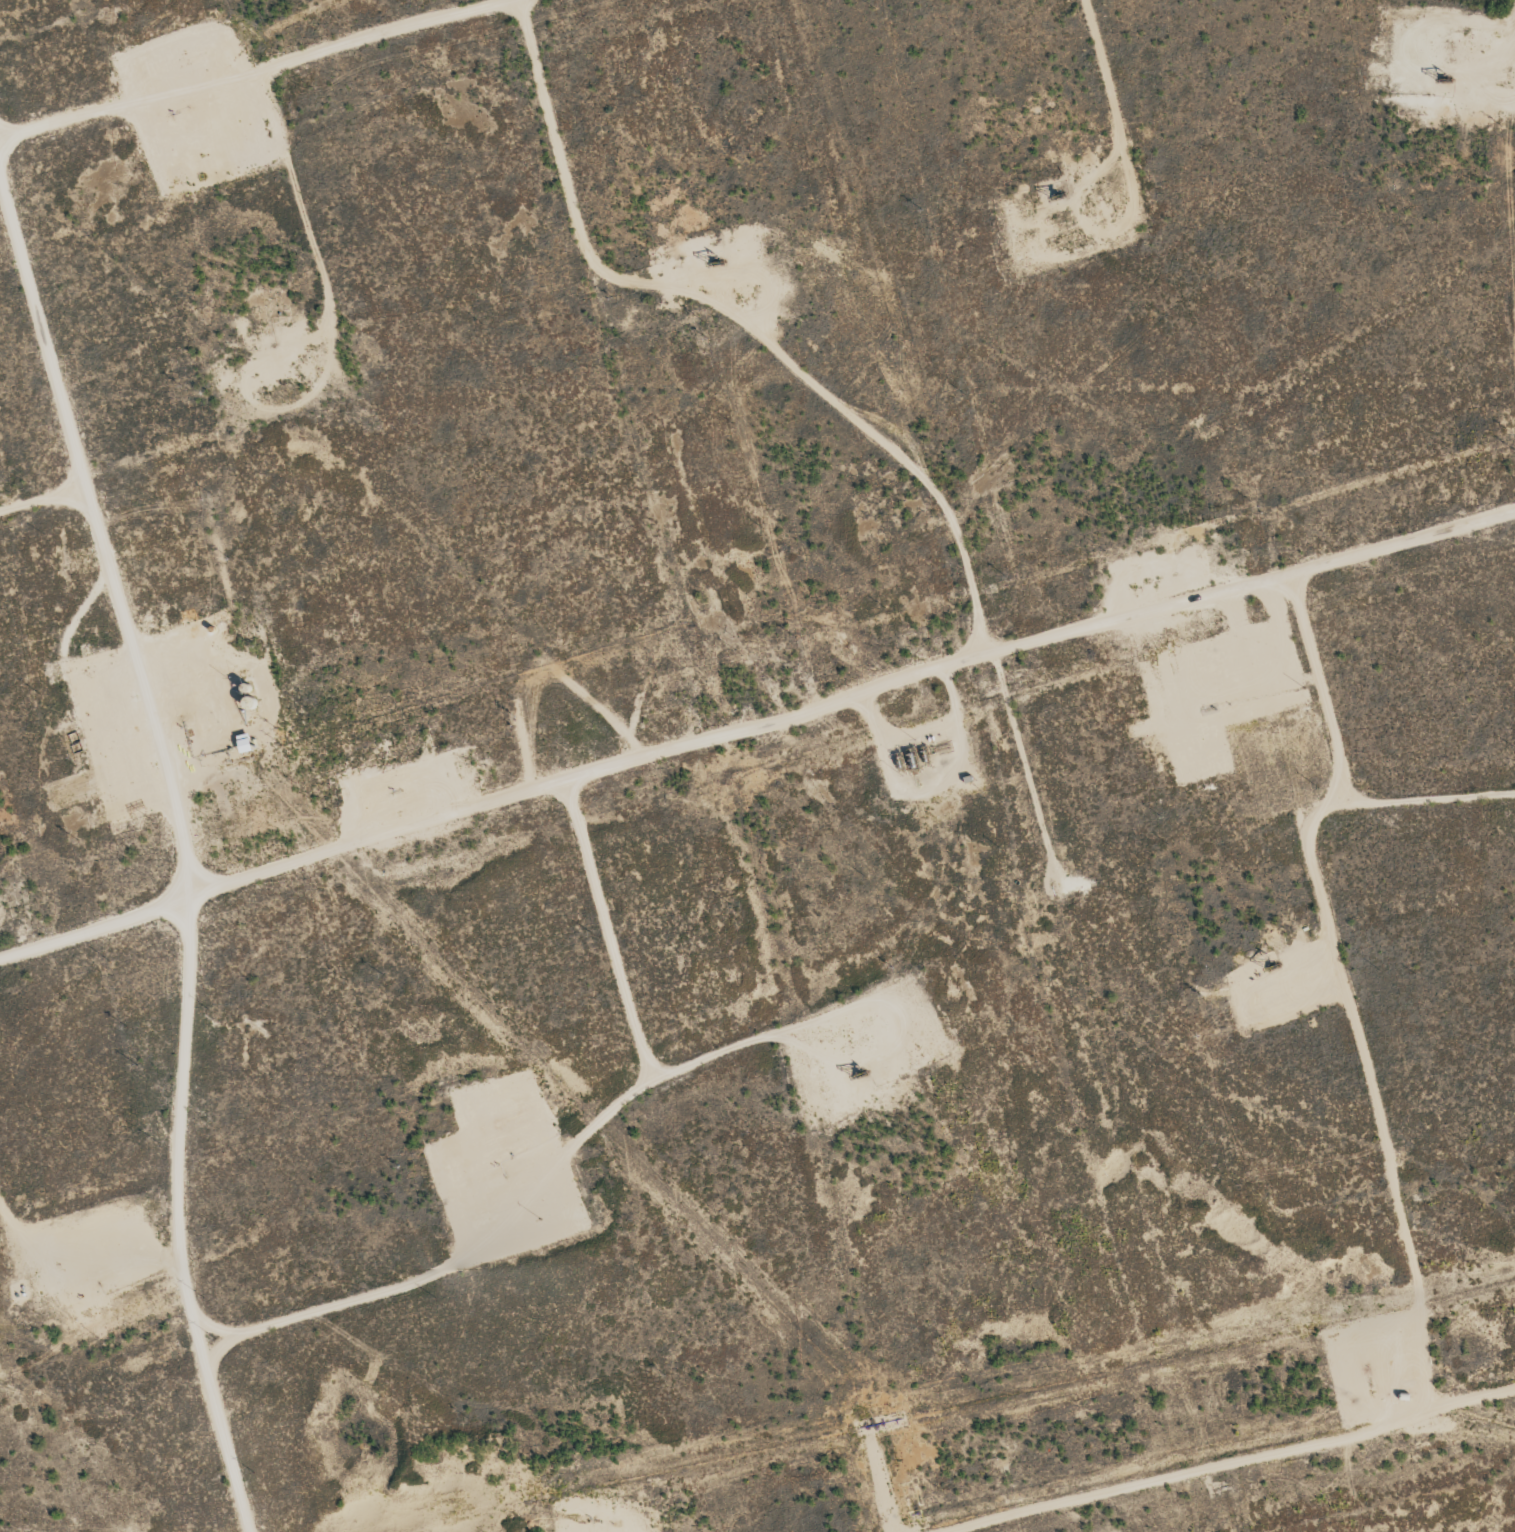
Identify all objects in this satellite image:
road: (517, 1)
road: (261, 68)
petroleum well: (1441, 75)
petroleum well: (1057, 196)
petroleum well: (707, 257)
road: (856, 700)
road: (185, 849)
road: (98, 921)
petroleum well: (1273, 966)
petroleum well: (860, 1071)
petroleum well: (494, 1175)
petroleum well: (81, 1282)
road: (1236, 1458)
road: (1089, 1515)

